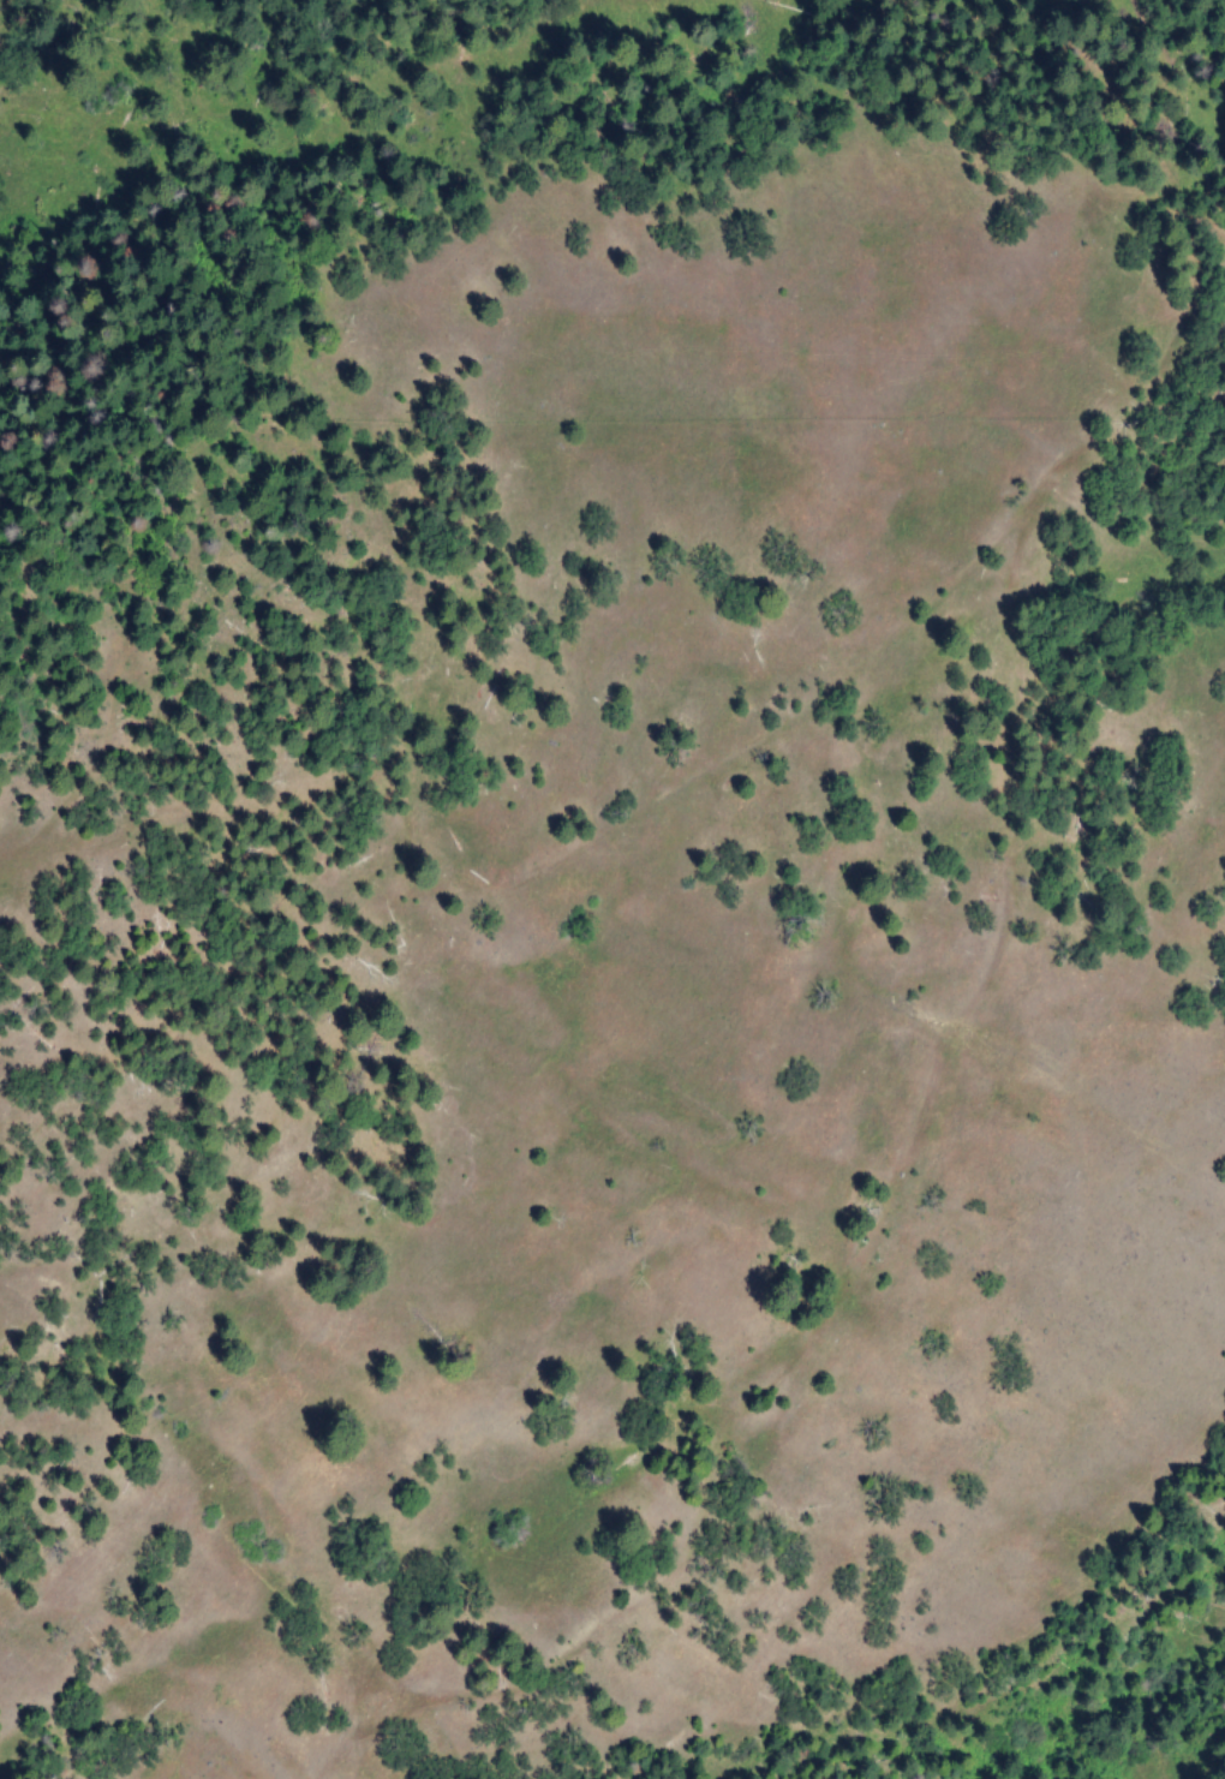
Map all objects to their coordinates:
road: (909, 921)
road: (1017, 1711)

